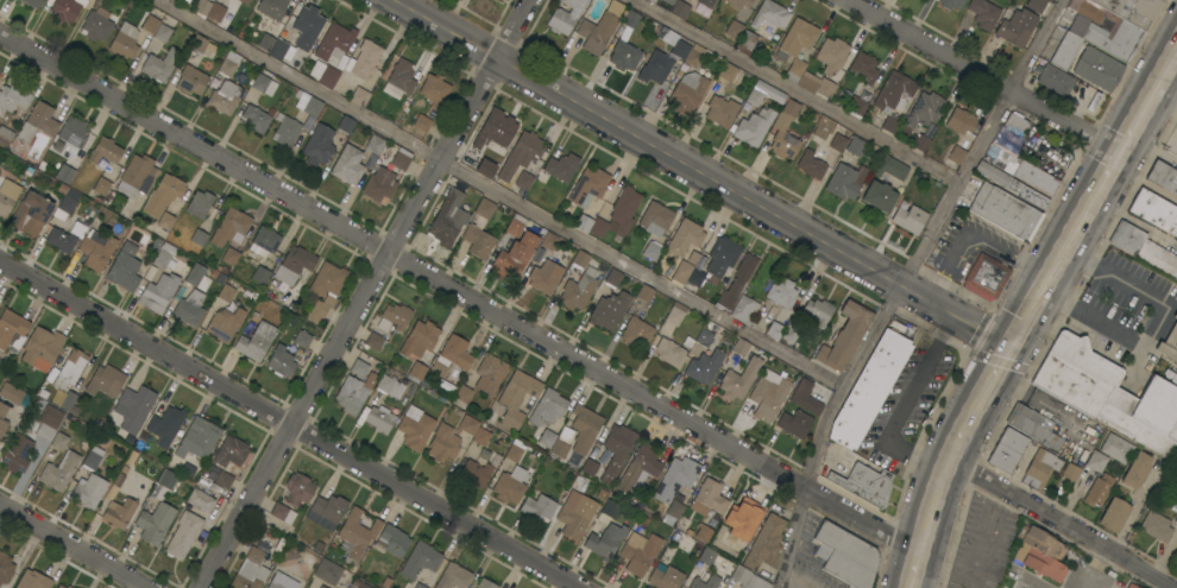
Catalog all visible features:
building: (170, 0)
building: (499, 0)
building: (185, 1)
building: (244, 1)
building: (652, 1)
building: (668, 1)
building: (32, 2)
building: (706, 2)
building: (738, 2)
building: (950, 4)
building: (1036, 5)
building: (202, 6)
building: (272, 8)
building: (679, 8)
building: (67, 10)
building: (1131, 10)
building: (1089, 12)
building: (216, 13)
building: (983, 13)
building: (769, 14)
building: (565, 15)
building: (631, 19)
building: (96, 25)
building: (150, 25)
building: (307, 27)
building: (1015, 27)
building: (734, 29)
building: (597, 32)
building: (546, 39)
building: (1115, 39)
building: (124, 40)
building: (266, 42)
building: (334, 42)
building: (745, 43)
building: (202, 46)
building: (680, 48)
building: (278, 50)
building: (1065, 50)
building: (831, 55)
building: (170, 56)
building: (624, 56)
building: (364, 59)
building: (797, 61)
building: (229, 63)
building: (655, 68)
building: (863, 68)
building: (1097, 69)
building: (726, 72)
building: (328, 76)
building: (1052, 77)
road: (982, 78)
building: (190, 80)
road: (301, 80)
building: (399, 80)
building: (263, 84)
building: (434, 89)
road: (800, 91)
building: (763, 93)
building: (687, 94)
building: (359, 96)
building: (225, 97)
building: (12, 99)
building: (893, 99)
road: (1150, 106)
building: (857, 107)
building: (720, 110)
building: (923, 110)
building: (254, 119)
building: (287, 119)
building: (959, 121)
building: (37, 122)
building: (421, 122)
building: (346, 124)
building: (1015, 124)
building: (753, 127)
building: (823, 127)
building: (495, 129)
building: (74, 132)
building: (785, 132)
building: (5, 135)
building: (837, 143)
building: (920, 143)
building: (374, 144)
building: (317, 145)
building: (856, 146)
building: (105, 151)
building: (523, 151)
building: (956, 156)
building: (398, 158)
building: (487, 160)
building: (347, 165)
building: (811, 165)
building: (889, 167)
building: (558, 169)
building: (64, 173)
road: (704, 173)
building: (137, 176)
building: (1034, 177)
building: (1163, 177)
building: (523, 181)
building: (845, 181)
road: (1108, 181)
building: (379, 184)
building: (1011, 184)
building: (588, 185)
building: (102, 188)
building: (8, 195)
building: (163, 195)
building: (879, 196)
building: (65, 202)
building: (199, 203)
building: (624, 209)
building: (1005, 211)
building: (1154, 211)
building: (31, 214)
building: (655, 217)
building: (908, 217)
building: (448, 219)
building: (165, 221)
building: (584, 223)
building: (515, 226)
building: (231, 227)
building: (598, 227)
building: (479, 229)
road: (977, 235)
building: (197, 236)
building: (65, 238)
building: (684, 238)
building: (264, 241)
building: (548, 241)
building: (96, 248)
building: (1143, 248)
building: (652, 249)
building: (229, 257)
building: (514, 257)
building: (165, 258)
building: (580, 259)
building: (720, 259)
building: (294, 265)
building: (125, 267)
building: (684, 268)
building: (743, 270)
road: (644, 274)
building: (260, 276)
building: (196, 277)
building: (545, 277)
building: (695, 277)
building: (986, 277)
road: (1053, 277)
building: (612, 278)
road: (904, 285)
building: (325, 289)
building: (578, 290)
road: (367, 292)
road: (460, 292)
building: (781, 292)
building: (157, 293)
building: (226, 293)
building: (644, 293)
building: (726, 299)
building: (189, 308)
building: (609, 310)
building: (744, 310)
building: (818, 311)
building: (675, 314)
building: (394, 317)
road: (1151, 322)
building: (225, 324)
building: (12, 329)
building: (774, 330)
building: (636, 333)
building: (789, 334)
building: (844, 336)
building: (704, 337)
building: (302, 339)
building: (418, 339)
building: (256, 341)
building: (373, 341)
building: (1169, 343)
building: (741, 347)
building: (42, 348)
traffic signals: (1014, 348)
building: (668, 352)
building: (451, 356)
building: (281, 362)
building: (704, 366)
building: (68, 367)
building: (359, 368)
building: (417, 373)
building: (489, 373)
building: (739, 379)
building: (106, 381)
road: (995, 381)
building: (389, 386)
building: (869, 388)
building: (11, 393)
building: (464, 393)
building: (352, 394)
building: (768, 394)
building: (1109, 394)
building: (516, 398)
building: (805, 398)
building: (69, 404)
road: (902, 406)
building: (548, 407)
building: (133, 409)
building: (379, 418)
building: (2, 419)
building: (48, 423)
road: (287, 423)
building: (794, 423)
building: (165, 425)
building: (468, 425)
building: (1033, 426)
building: (415, 428)
building: (583, 432)
building: (480, 436)
road: (963, 436)
building: (59, 438)
building: (197, 438)
building: (547, 438)
building: (442, 444)
building: (1116, 448)
building: (559, 449)
building: (616, 450)
building: (1006, 450)
building: (231, 451)
building: (17, 454)
building: (512, 454)
building: (93, 457)
building: (1096, 461)
building: (590, 467)
building: (640, 469)
building: (1039, 469)
building: (1137, 470)
building: (59, 472)
building: (476, 473)
building: (1070, 473)
building: (166, 479)
building: (675, 479)
building: (224, 480)
building: (1172, 480)
building: (864, 485)
building: (509, 486)
building: (297, 489)
building: (1097, 491)
building: (89, 492)
building: (681, 497)
building: (709, 498)
building: (1165, 499)
building: (200, 500)
road: (933, 505)
building: (539, 507)
building: (610, 508)
building: (327, 511)
building: (674, 511)
building: (119, 512)
building: (282, 512)
building: (575, 514)
building: (1114, 514)
building: (742, 518)
road: (1063, 521)
building: (155, 523)
building: (1156, 526)
building: (357, 532)
building: (704, 533)
building: (183, 535)
building: (604, 538)
building: (392, 540)
building: (763, 543)
road: (73, 546)
building: (638, 552)
building: (1040, 554)
road: (1165, 555)
building: (707, 556)
building: (845, 556)
building: (420, 561)
building: (5, 568)
road: (1102, 569)
building: (251, 570)
road: (914, 570)
building: (327, 571)
building: (453, 576)
building: (665, 576)
building: (748, 578)
building: (33, 580)
building: (281, 581)
building: (705, 582)
building: (359, 583)
building: (485, 583)
building: (418, 586)
building: (1131, 586)
building: (61, 587)
building: (68, 587)
building: (320, 587)
building: (321, 587)

